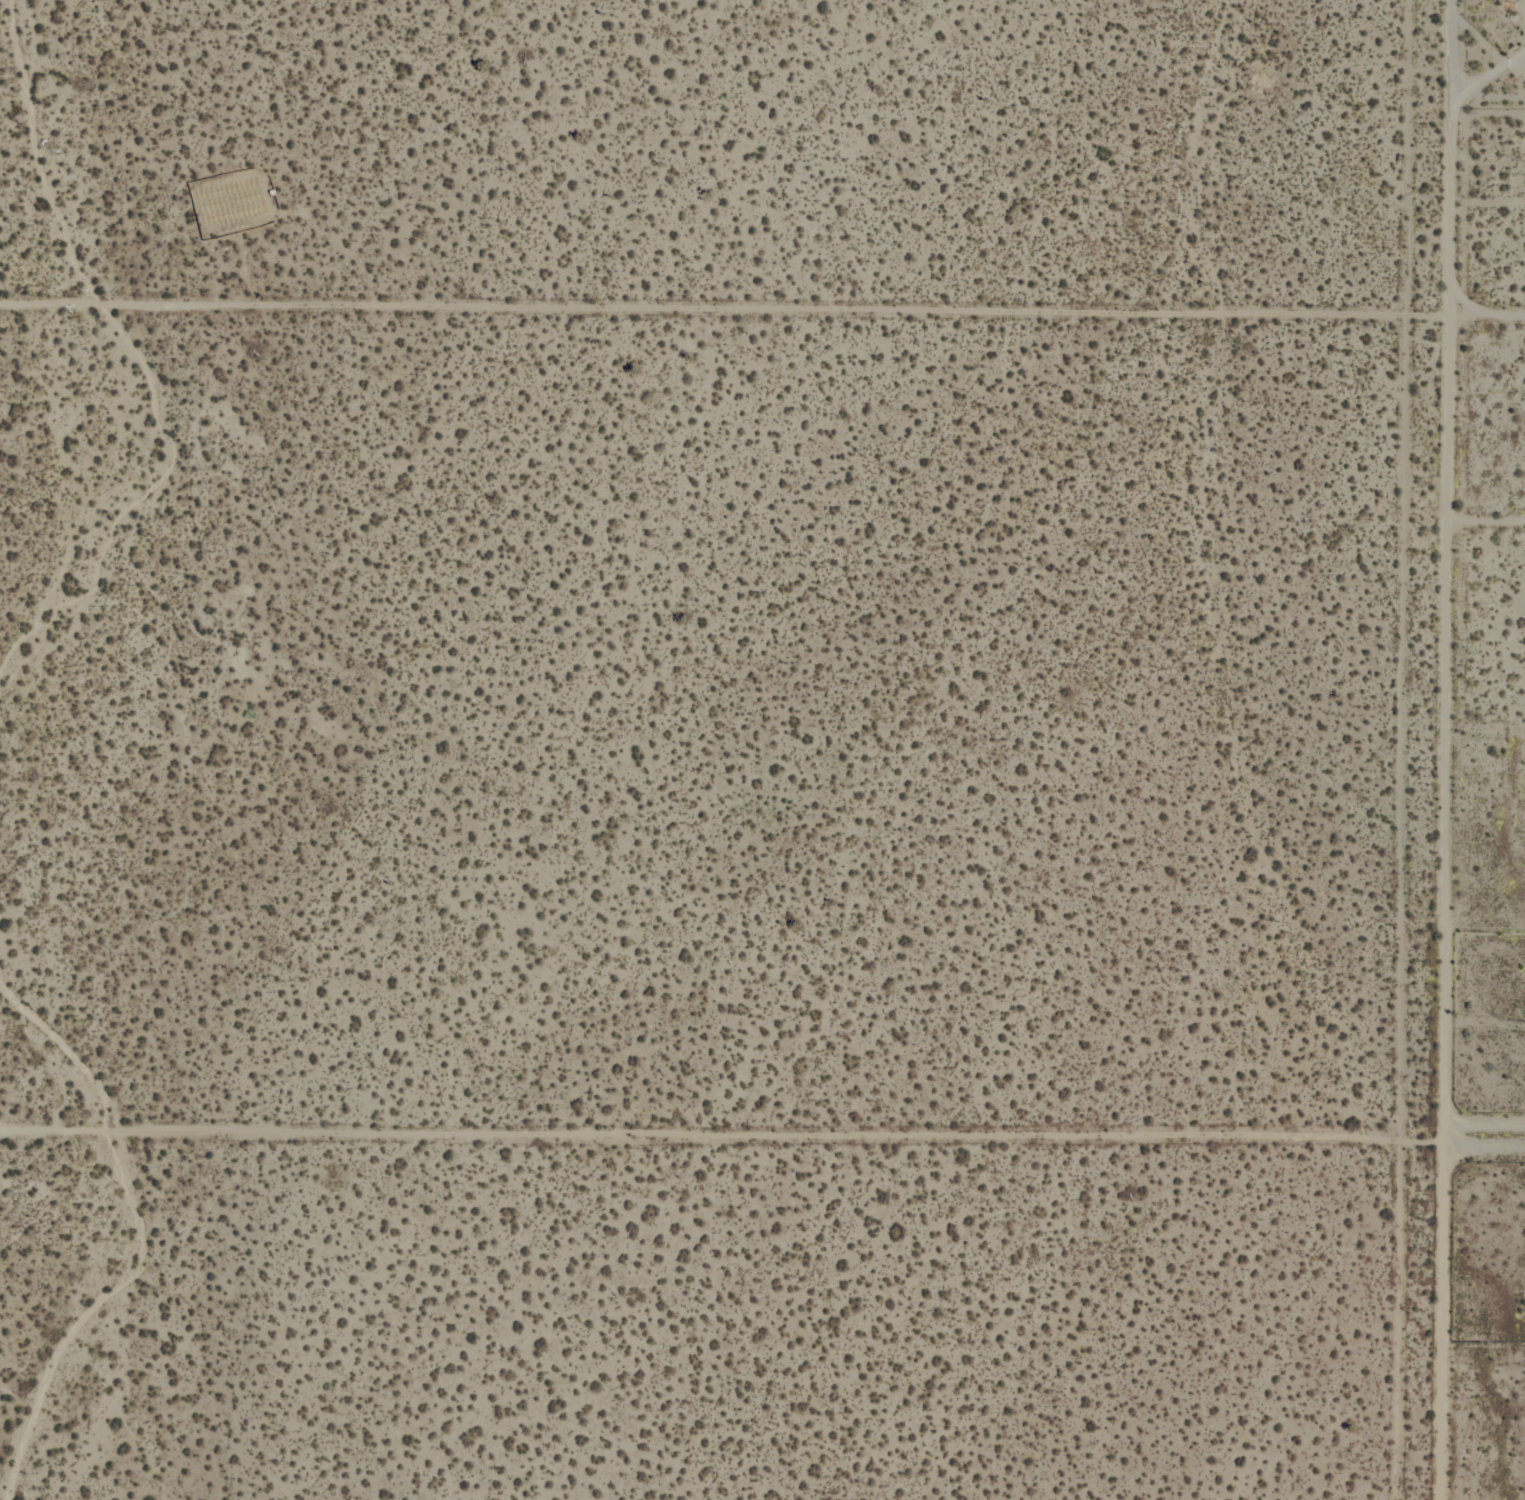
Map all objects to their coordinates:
road: (1480, 35)
road: (1516, 56)
road: (1516, 70)
road: (1477, 85)
road: (1485, 518)
road: (1442, 749)
road: (762, 1139)

